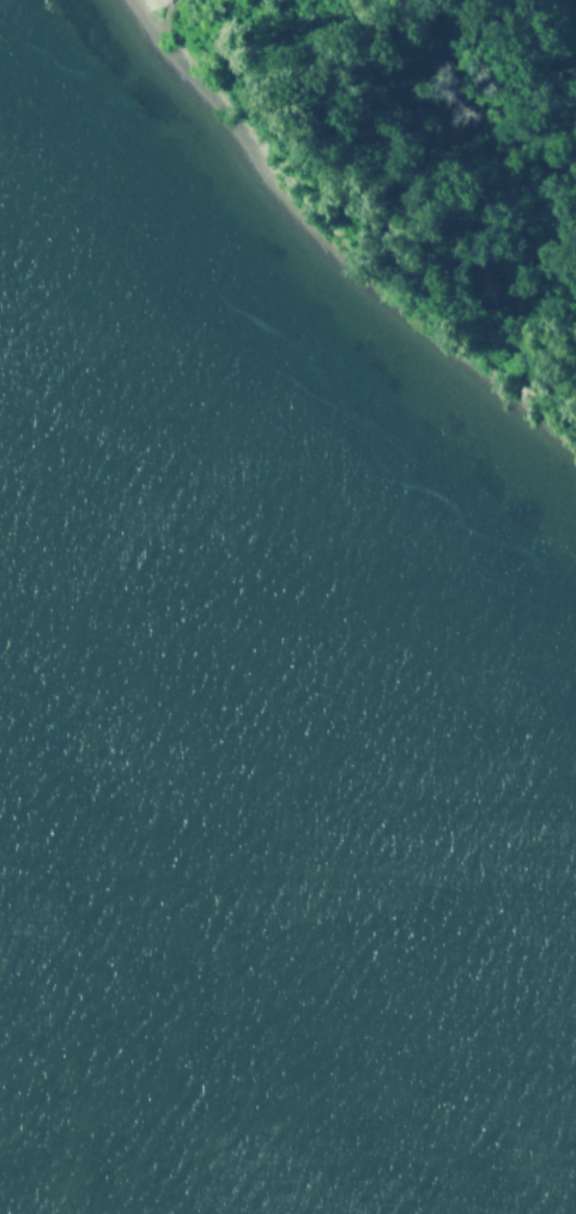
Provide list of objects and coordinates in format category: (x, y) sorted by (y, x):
river: (90, 1129)

